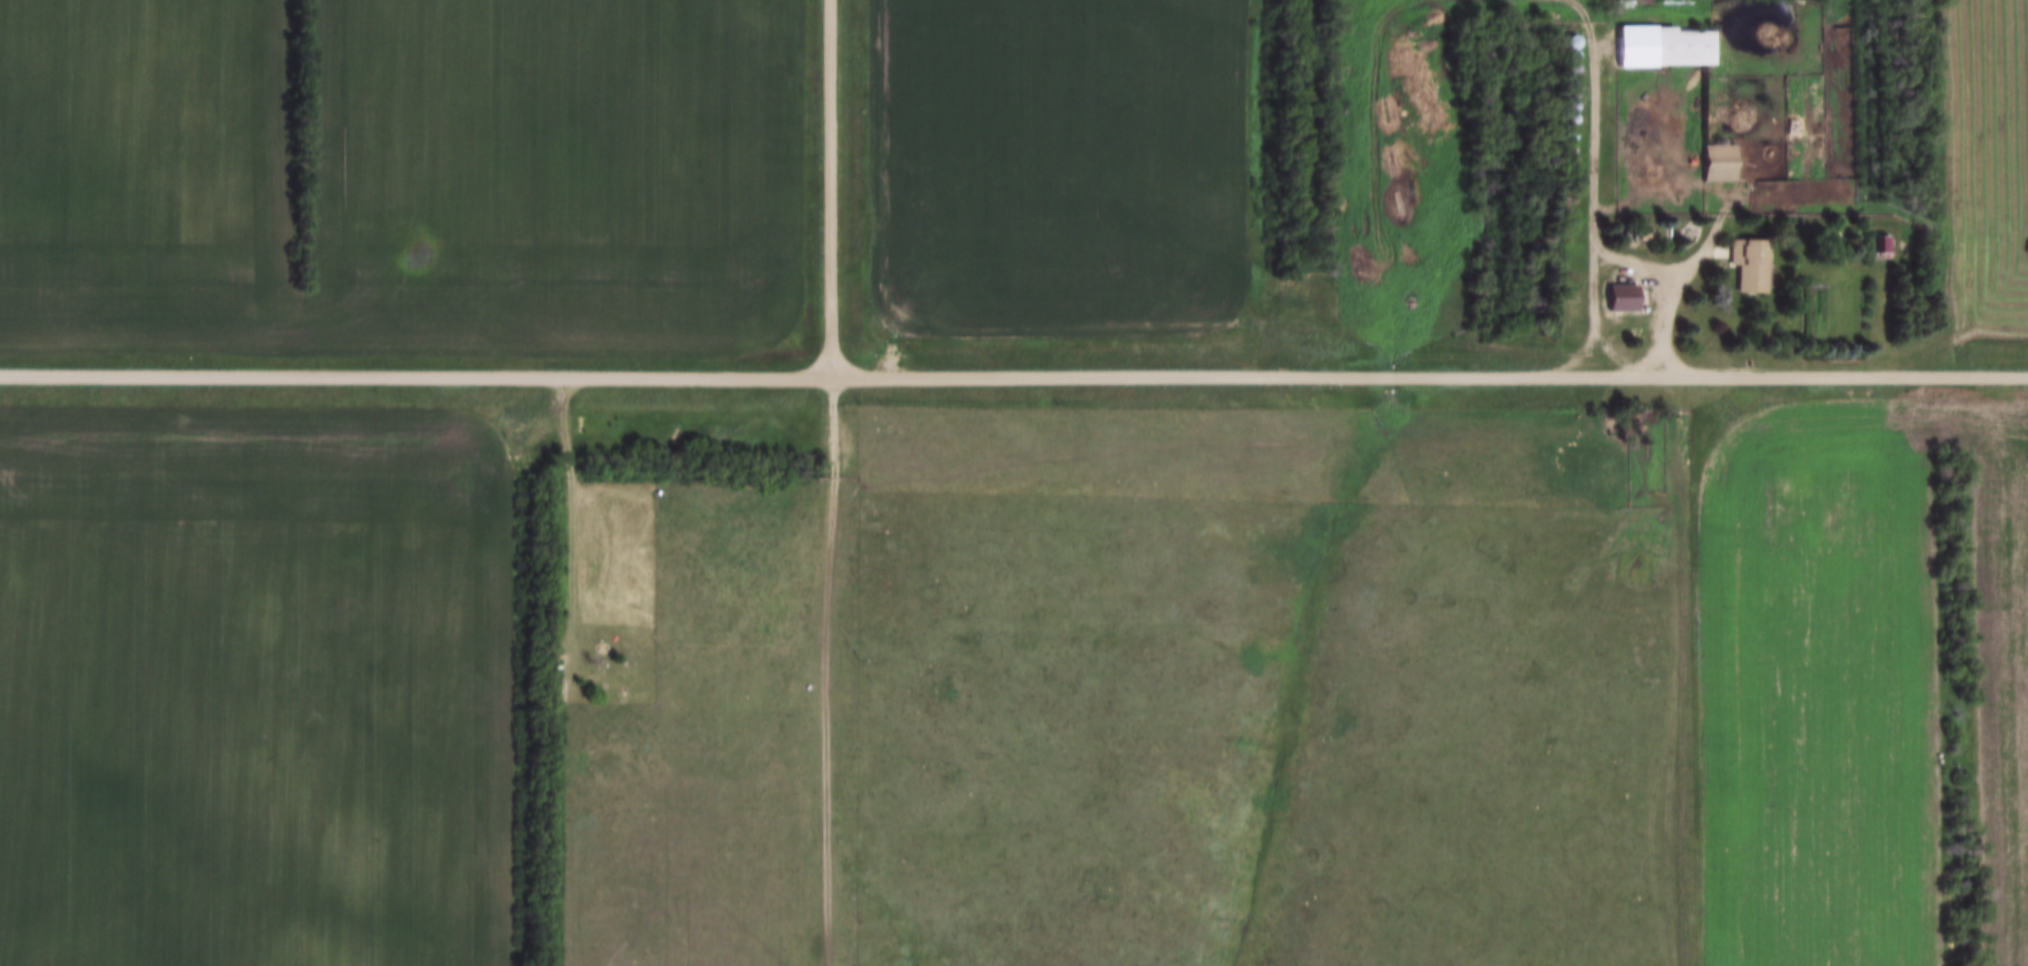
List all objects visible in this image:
building: (1662, 46)
road: (1840, 142)
building: (1716, 163)
road: (831, 188)
road: (1597, 219)
building: (1747, 264)
road: (1685, 277)
building: (1620, 296)
road: (415, 373)
road: (1429, 375)
road: (549, 419)
parking lot: (832, 425)
building: (542, 662)
road: (805, 669)
road: (826, 669)
road: (704, 914)

